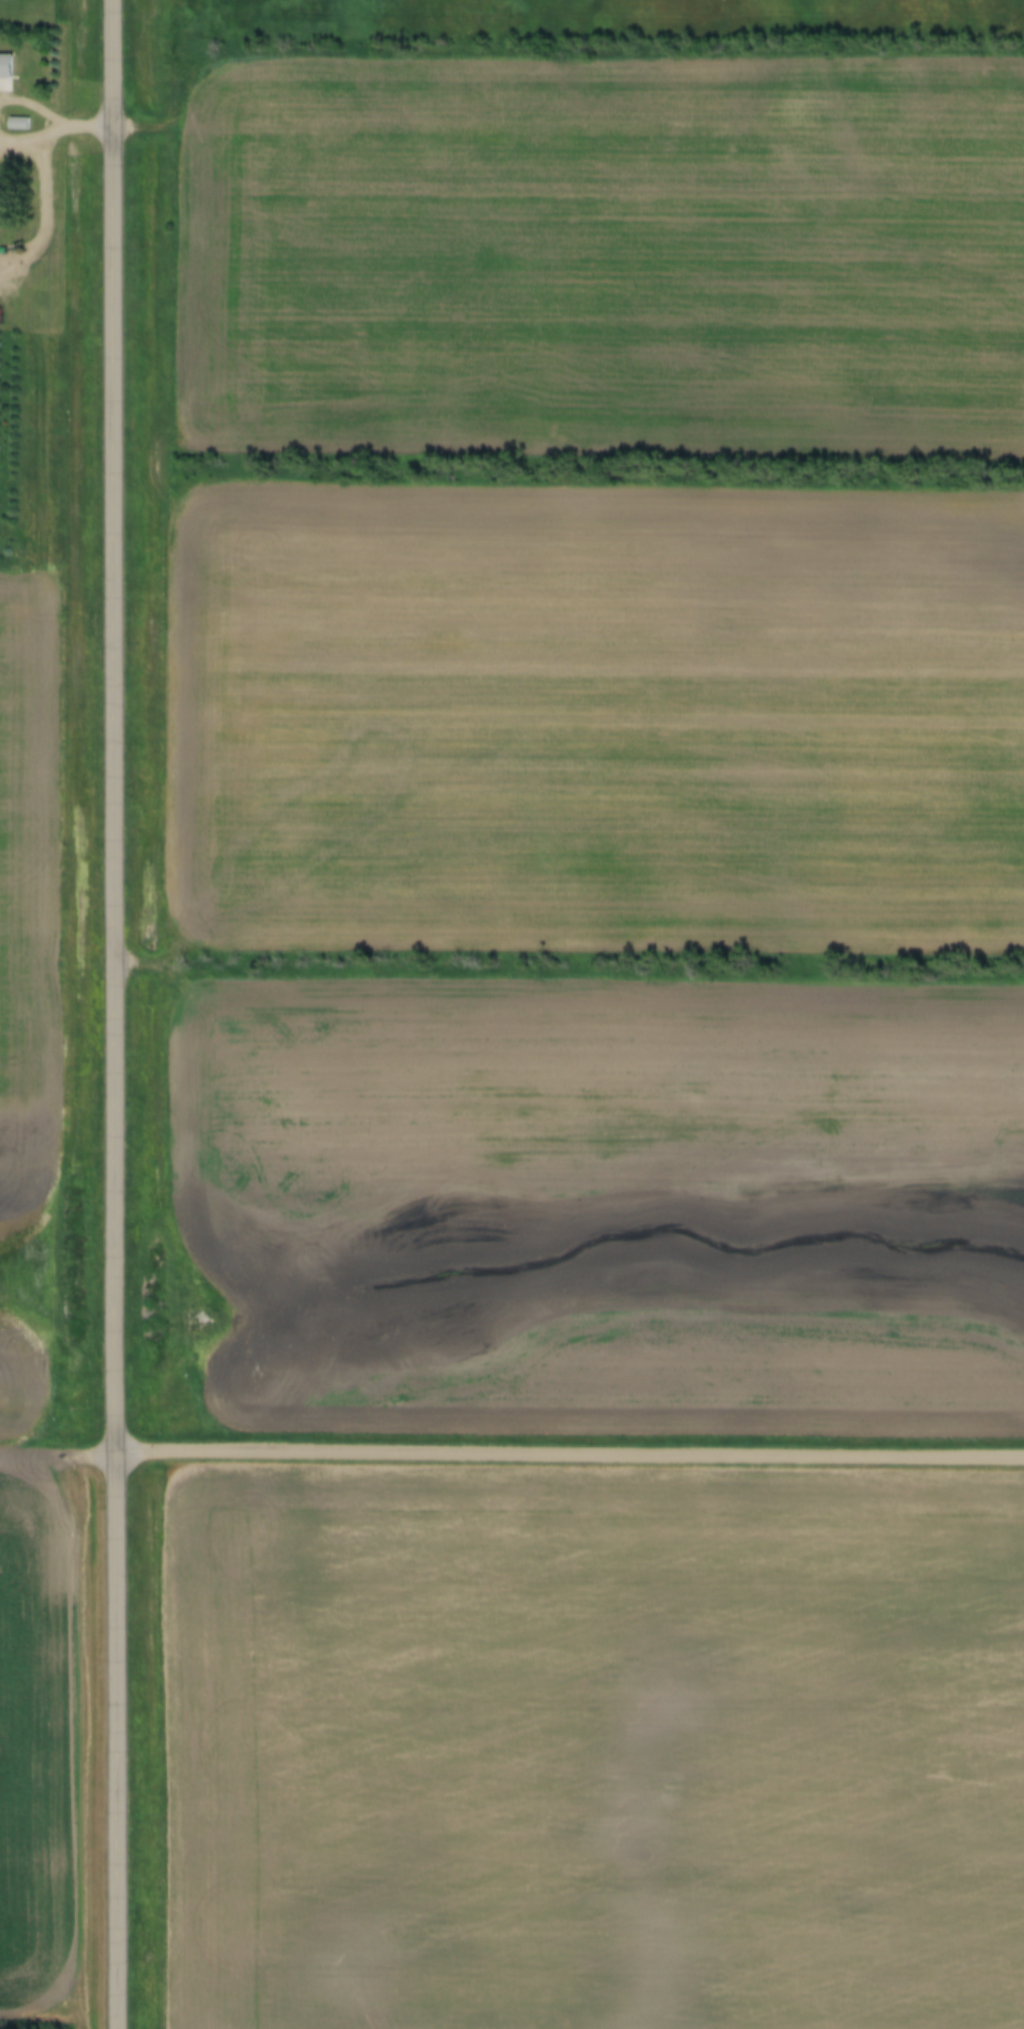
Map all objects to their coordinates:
building: (3, 67)
building: (15, 124)
road: (75, 124)
road: (18, 135)
road: (37, 201)
road: (116, 1014)
road: (570, 1456)
road: (58, 1459)

